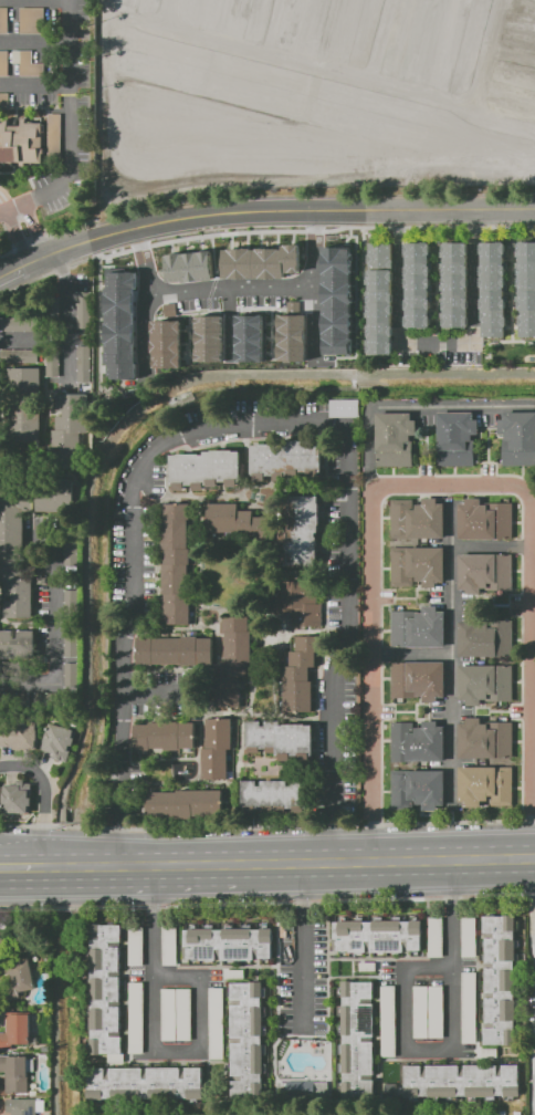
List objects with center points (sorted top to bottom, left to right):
building: (3, 20)
building: (32, 20)
building: (4, 63)
building: (28, 64)
road: (34, 83)
building: (4, 98)
road: (70, 129)
building: (54, 136)
building: (22, 140)
road: (7, 200)
road: (262, 210)
road: (34, 230)
road: (262, 230)
road: (18, 237)
building: (260, 262)
building: (188, 267)
building: (493, 275)
building: (526, 275)
road: (355, 281)
building: (419, 284)
building: (455, 284)
road: (233, 285)
road: (474, 293)
road: (398, 294)
building: (336, 299)
building: (380, 299)
building: (53, 310)
building: (85, 310)
road: (67, 315)
road: (316, 315)
building: (494, 322)
building: (526, 322)
building: (122, 323)
building: (20, 324)
road: (33, 337)
building: (248, 337)
building: (292, 337)
building: (208, 338)
building: (166, 343)
building: (20, 355)
building: (84, 361)
building: (52, 363)
building: (25, 403)
building: (345, 408)
building: (70, 413)
road: (249, 421)
road: (45, 428)
building: (457, 438)
building: (517, 438)
building: (395, 439)
building: (67, 449)
building: (285, 457)
building: (207, 470)
road: (447, 486)
building: (55, 494)
building: (228, 518)
building: (418, 520)
building: (485, 520)
road: (451, 525)
building: (300, 531)
building: (14, 549)
building: (72, 553)
building: (176, 563)
building: (417, 565)
building: (485, 572)
building: (297, 601)
building: (72, 602)
building: (418, 627)
road: (451, 633)
road: (54, 635)
building: (484, 636)
building: (17, 645)
building: (72, 645)
building: (175, 650)
road: (410, 653)
building: (233, 663)
building: (301, 674)
building: (72, 675)
building: (418, 679)
building: (485, 682)
road: (151, 692)
building: (15, 698)
building: (46, 699)
building: (20, 736)
building: (162, 736)
building: (281, 739)
building: (485, 739)
building: (59, 741)
building: (418, 741)
building: (217, 748)
building: (486, 785)
building: (418, 790)
building: (276, 795)
building: (18, 796)
road: (50, 798)
building: (183, 803)
road: (267, 826)
road: (534, 855)
road: (416, 857)
road: (24, 862)
road: (174, 864)
road: (24, 874)
road: (534, 875)
road: (267, 903)
building: (377, 935)
building: (470, 936)
building: (436, 937)
building: (228, 941)
building: (136, 945)
building: (170, 945)
road: (300, 945)
building: (2, 946)
building: (368, 966)
building: (235, 973)
building: (22, 975)
building: (501, 978)
building: (106, 989)
building: (470, 1007)
building: (420, 1011)
building: (436, 1011)
building: (168, 1014)
building: (185, 1014)
building: (137, 1017)
building: (388, 1021)
building: (217, 1023)
building: (17, 1030)
road: (453, 1035)
building: (251, 1038)
building: (358, 1038)
road: (154, 1040)
building: (45, 1048)
building: (490, 1052)
building: (15, 1073)
building: (389, 1074)
building: (460, 1082)
building: (145, 1083)
building: (390, 1090)
building: (22, 1106)

